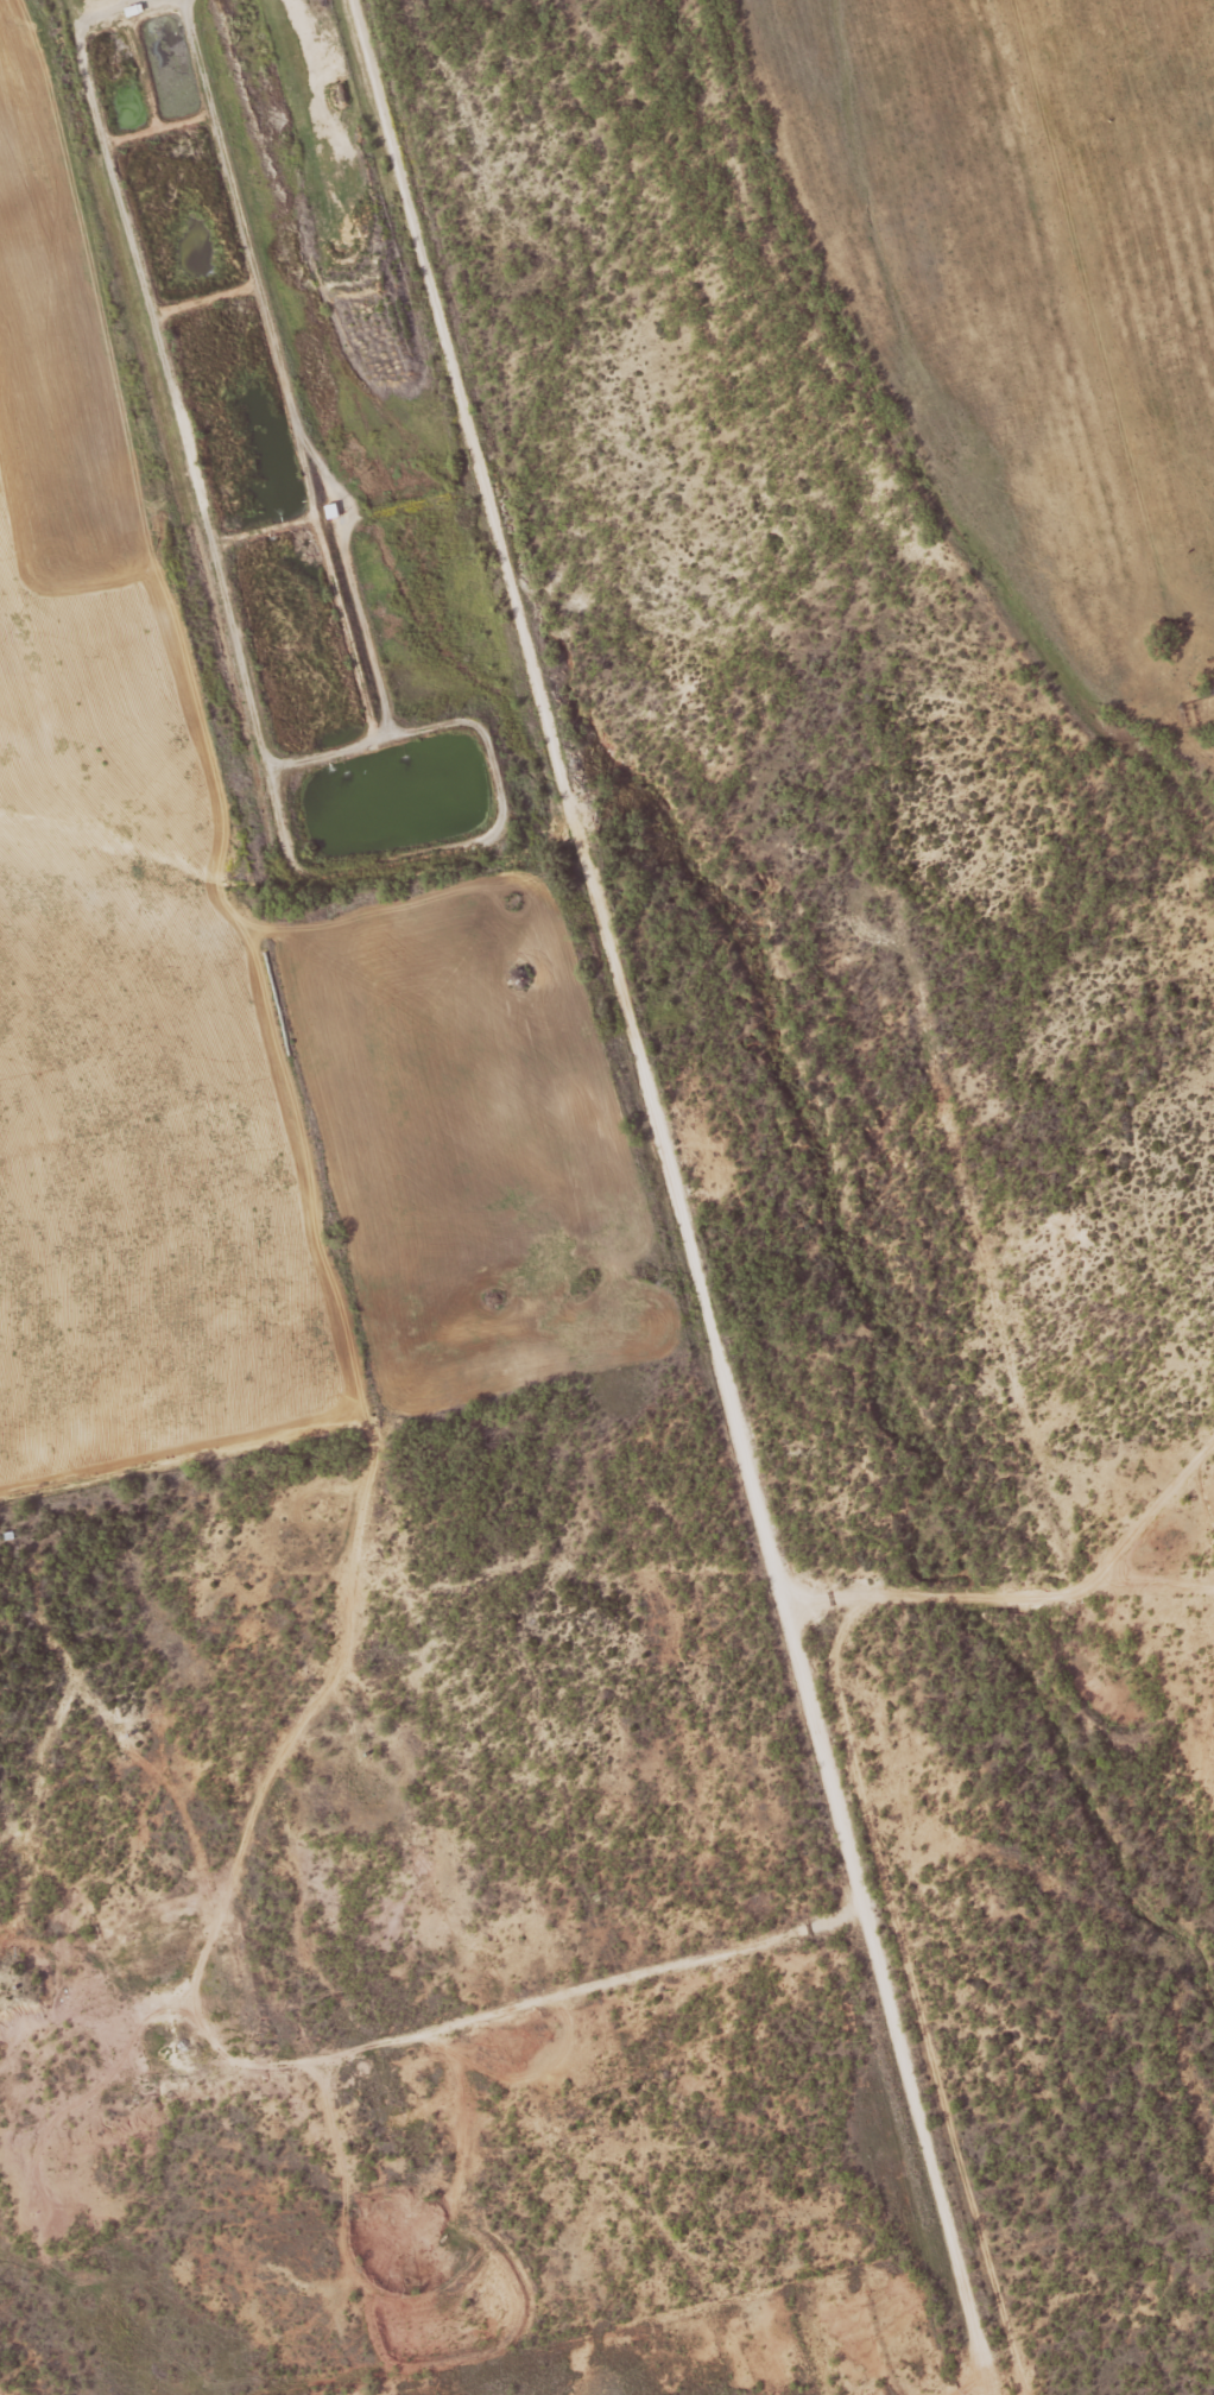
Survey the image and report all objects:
road: (676, 1196)

